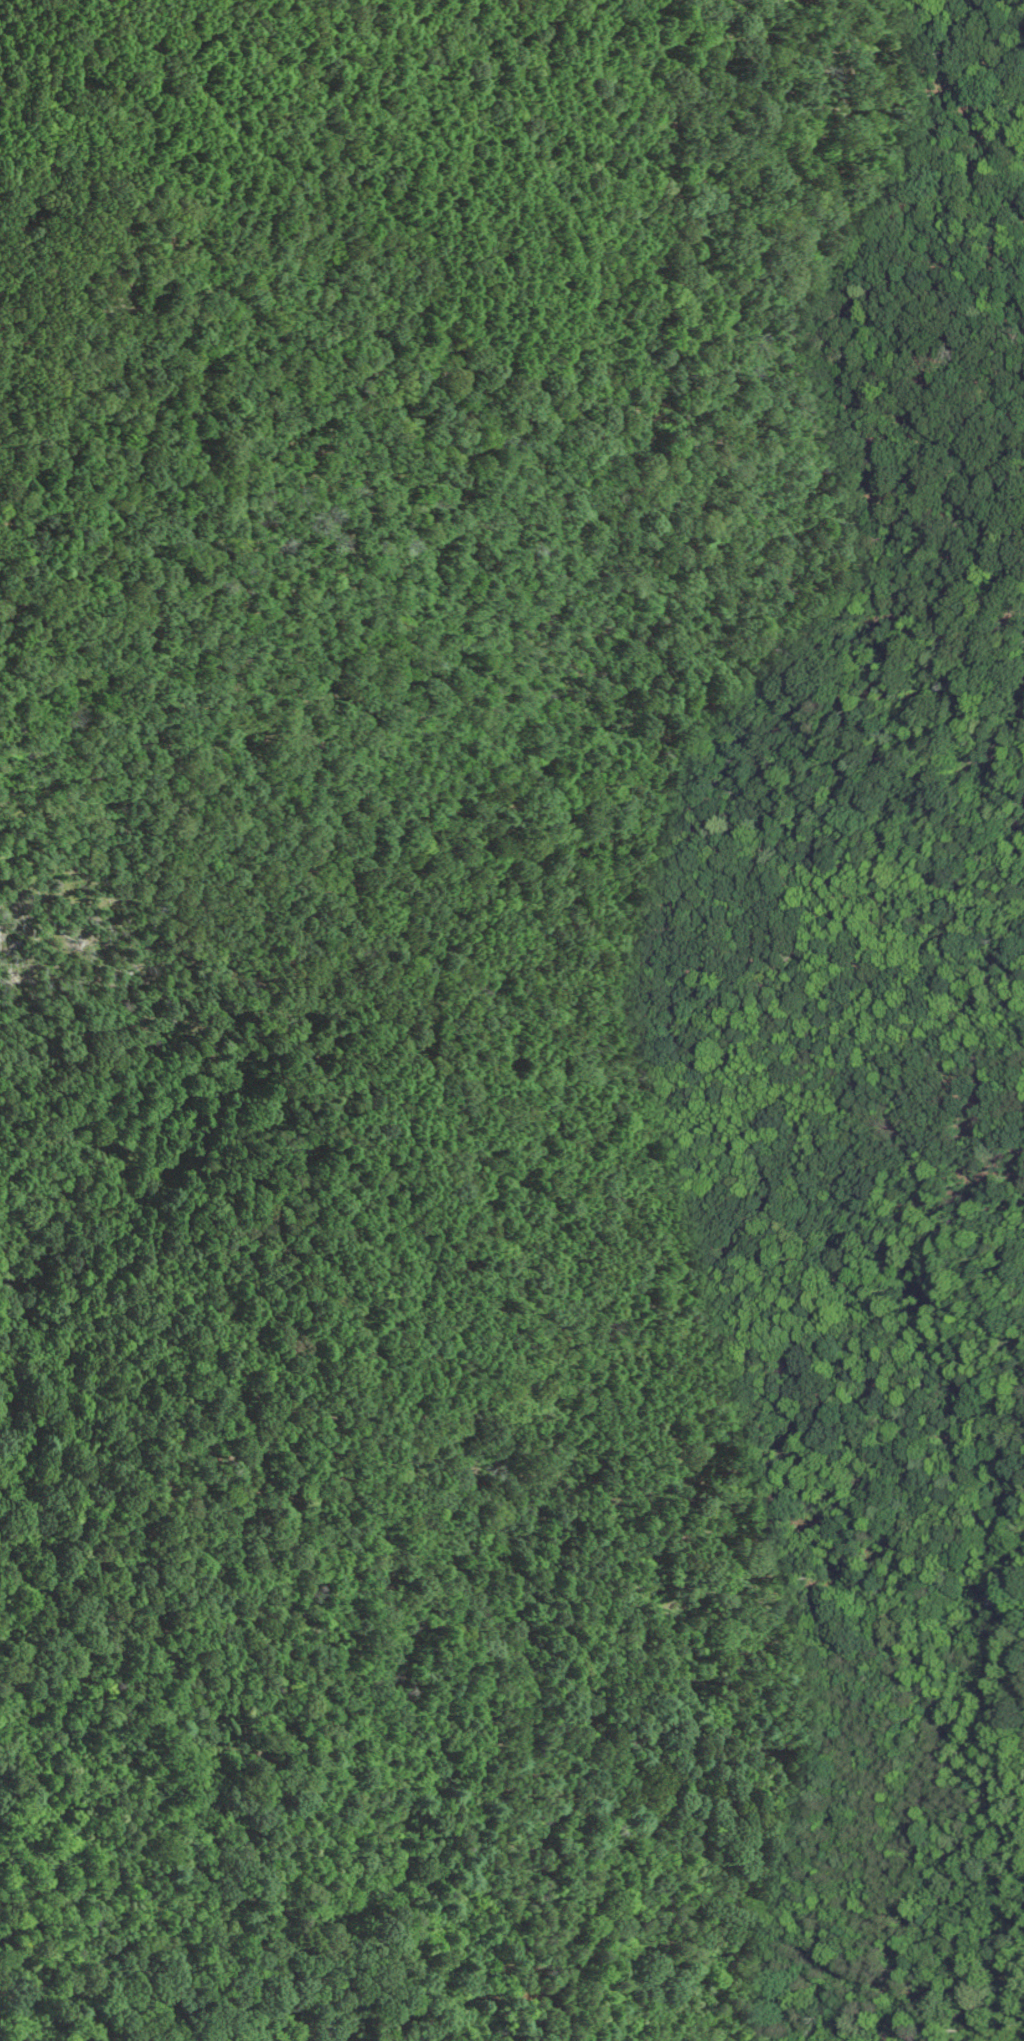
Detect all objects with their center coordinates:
road: (912, 2030)

